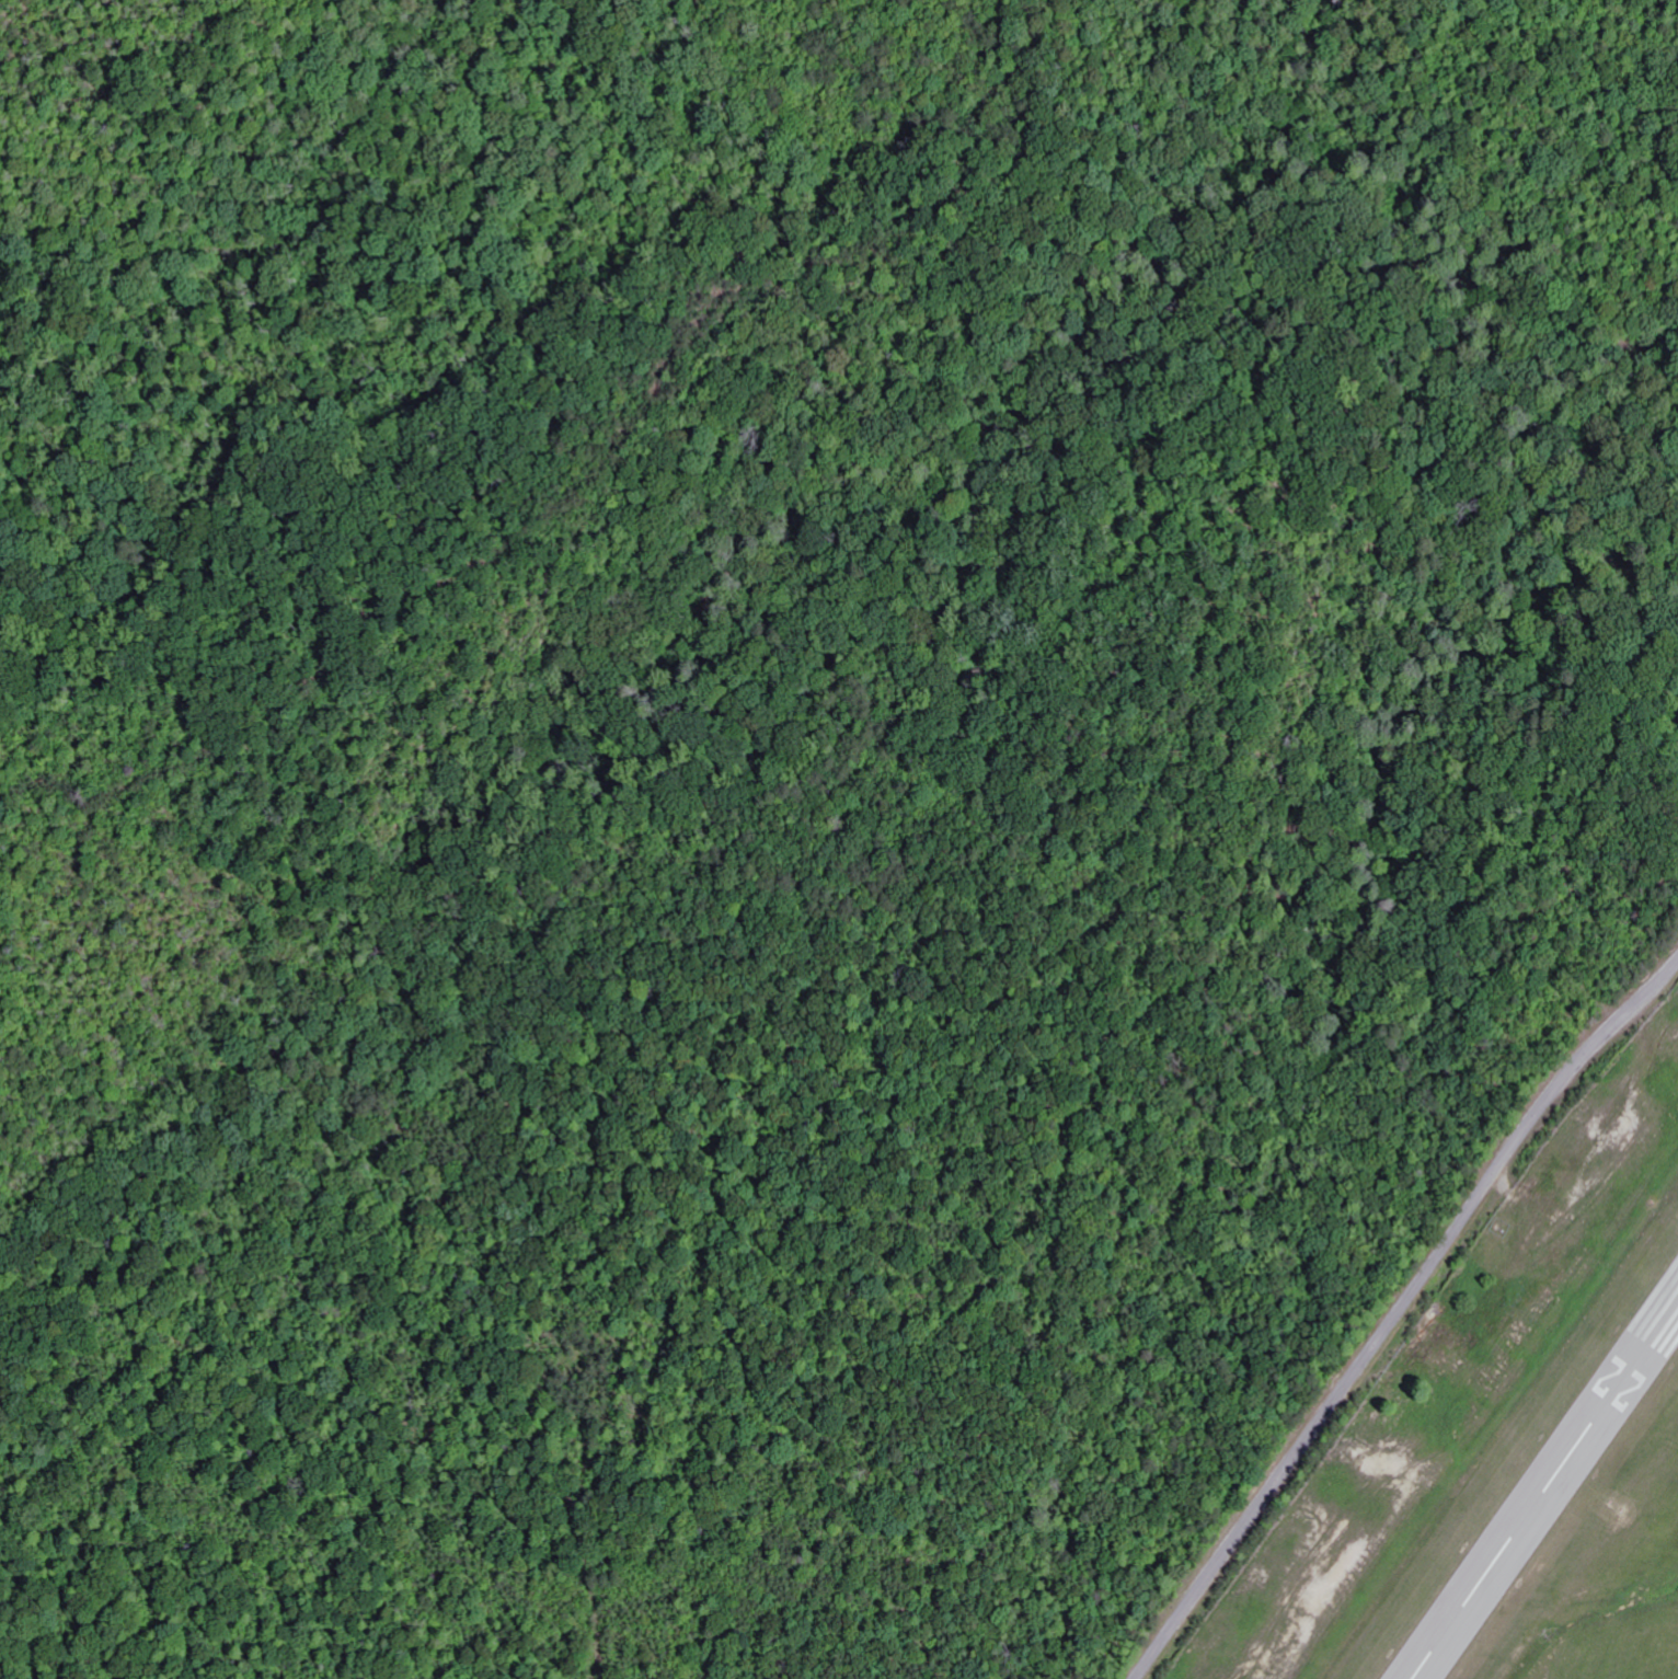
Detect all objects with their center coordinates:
road: (1398, 1311)
airport: (1504, 1444)
airport runway: (1547, 1492)

